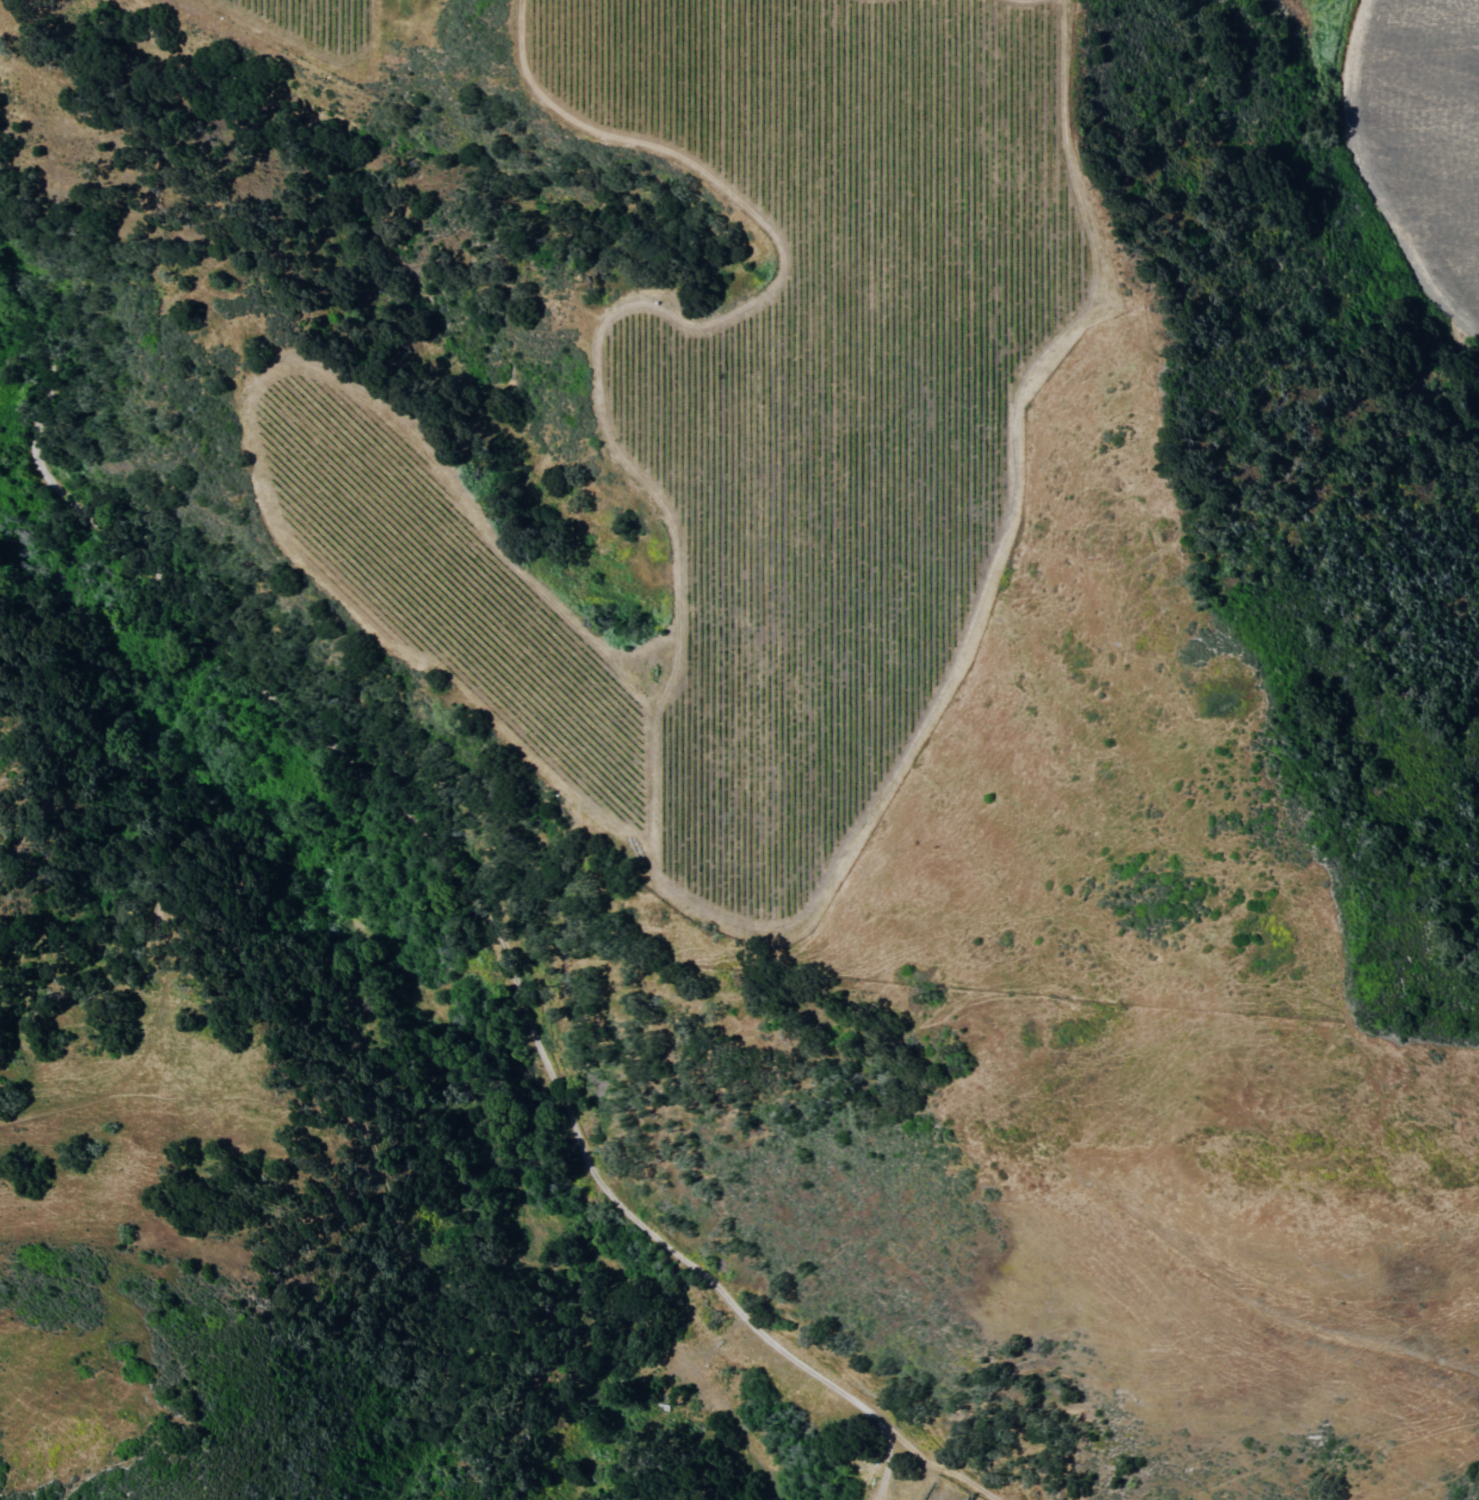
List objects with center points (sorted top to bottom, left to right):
crop: (333, 21)
crop: (1422, 135)
road: (429, 933)

